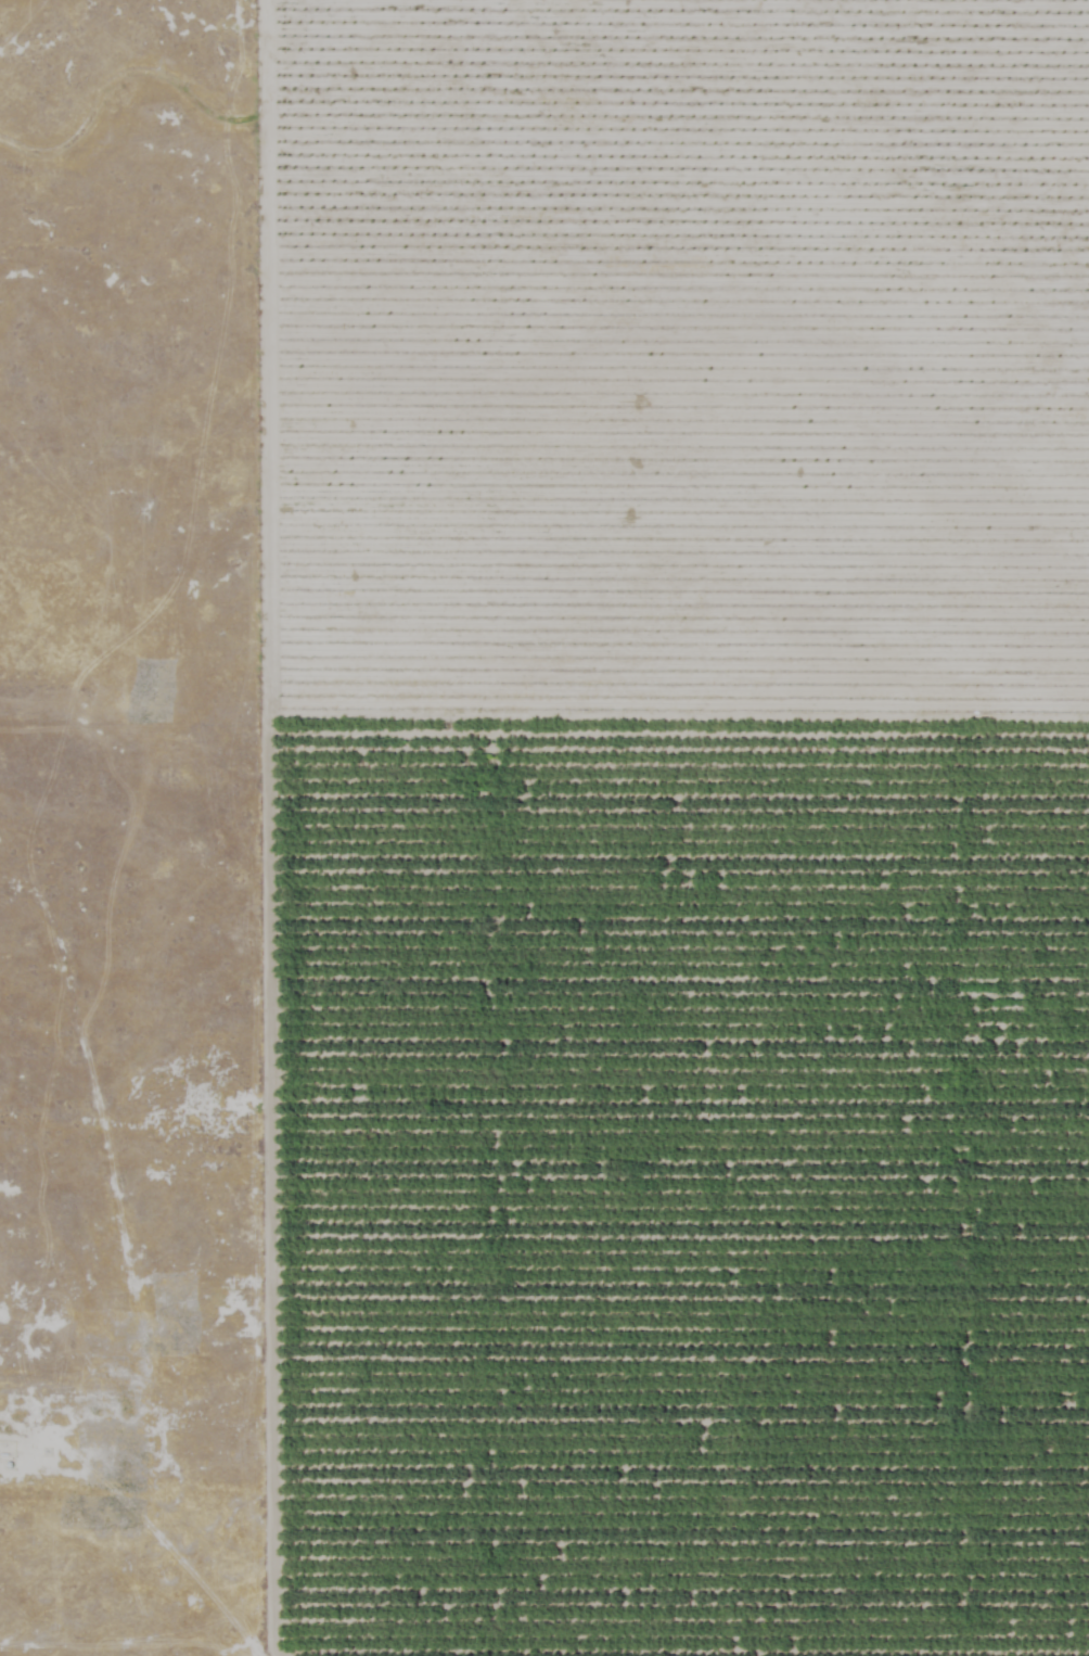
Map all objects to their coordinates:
road: (76, 63)
crop: (676, 826)

